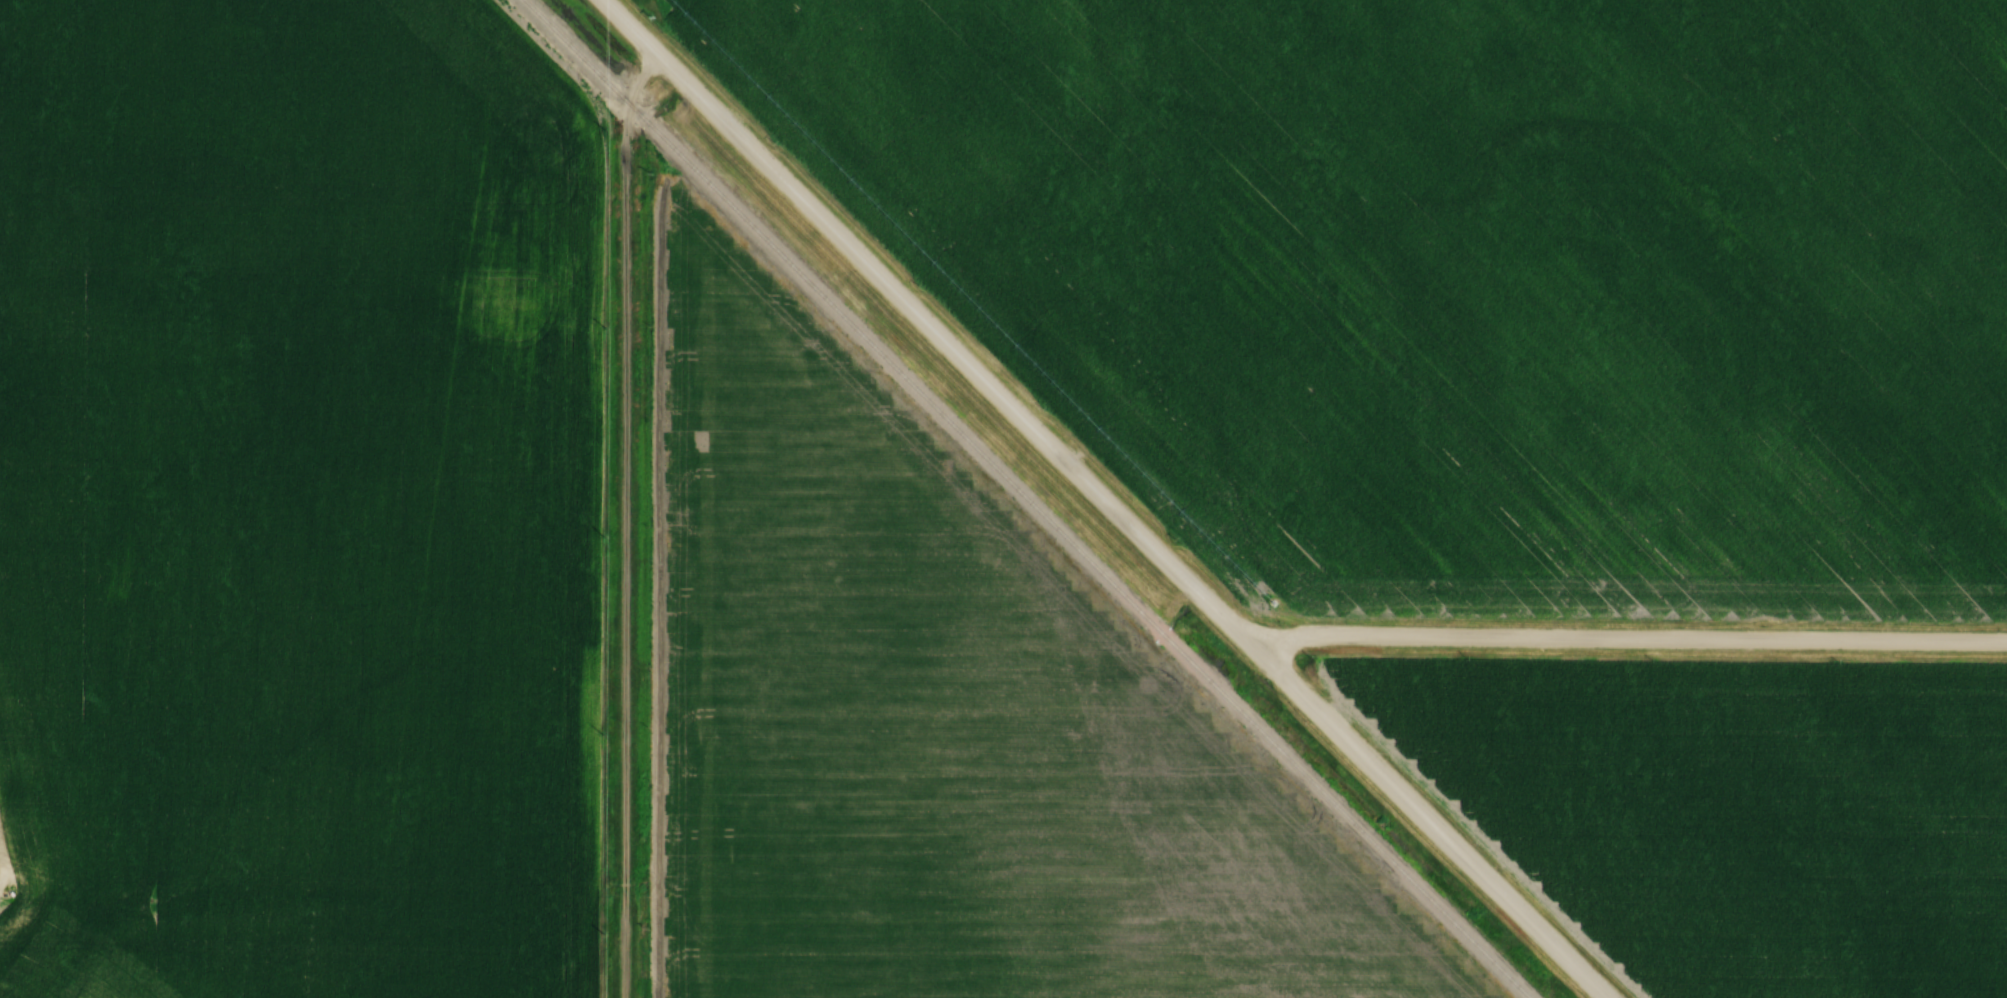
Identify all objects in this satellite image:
railway: (1031, 498)
road: (1102, 500)
road: (624, 521)
road: (1631, 635)

